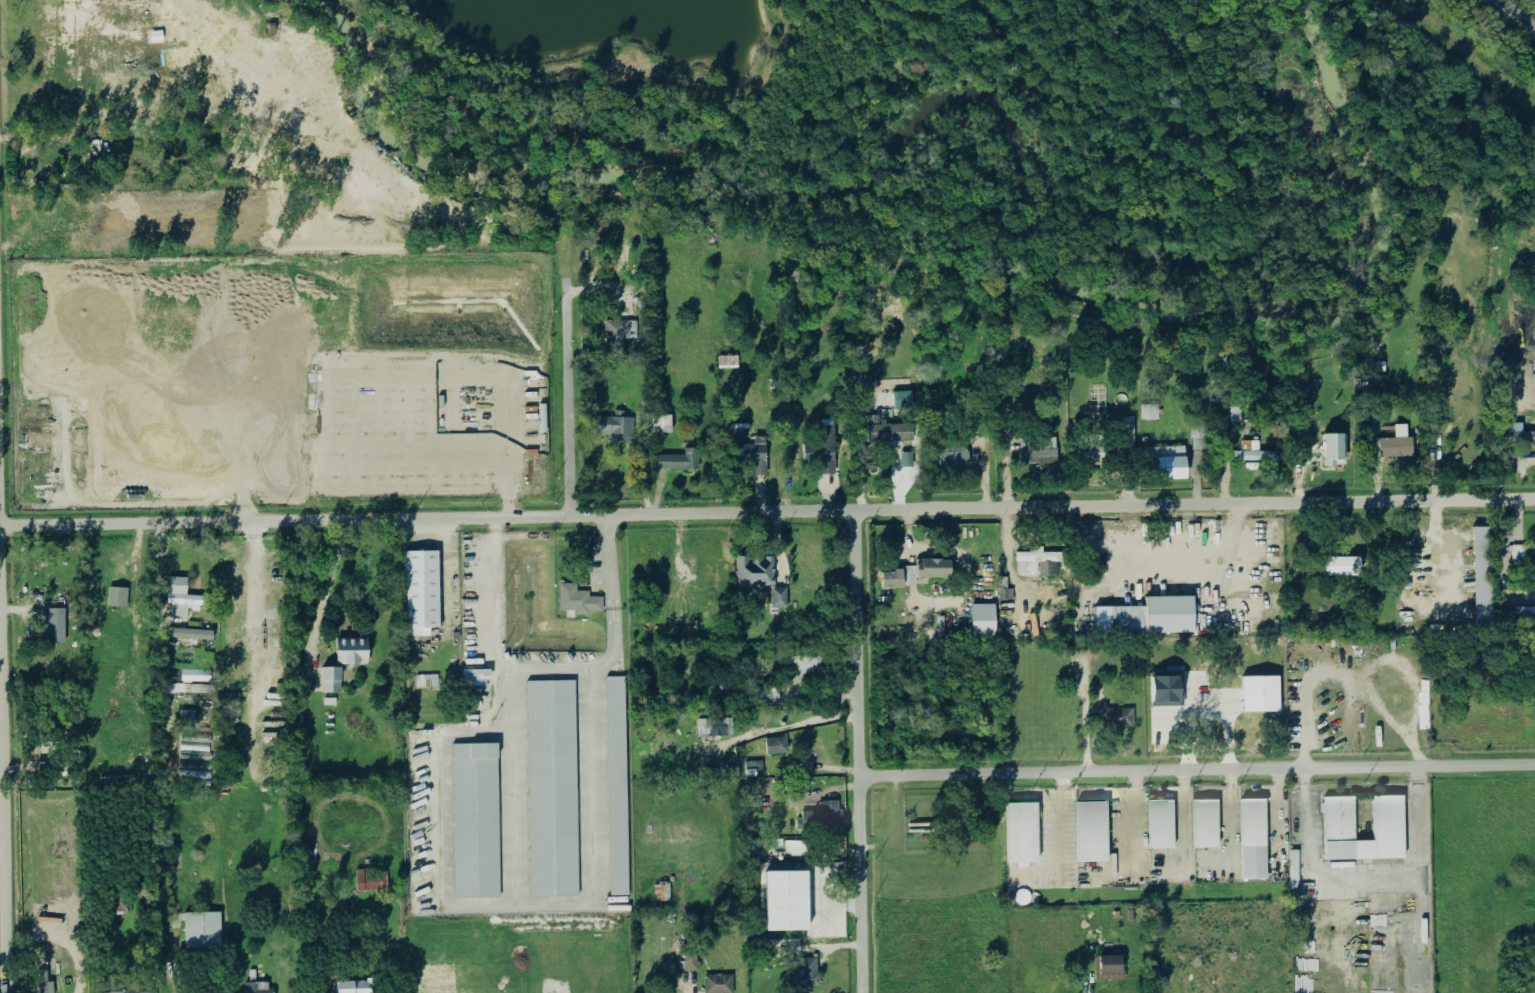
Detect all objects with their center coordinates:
railway: (1513, 16)
railway: (1473, 48)
river: (911, 240)
building: (626, 255)
road: (383, 314)
building: (620, 333)
road: (284, 380)
road: (151, 384)
road: (64, 386)
road: (565, 398)
building: (903, 401)
road: (325, 408)
road: (237, 409)
building: (1150, 413)
building: (663, 425)
building: (618, 429)
building: (890, 433)
building: (1520, 435)
building: (1202, 438)
road: (417, 440)
building: (1399, 445)
building: (1337, 451)
building: (1255, 453)
building: (822, 454)
building: (1040, 454)
building: (758, 455)
building: (907, 460)
building: (955, 460)
building: (681, 461)
building: (1171, 462)
road: (16, 501)
road: (767, 514)
building: (1521, 554)
building: (726, 556)
building: (1039, 564)
building: (1264, 567)
building: (1345, 567)
building: (920, 574)
building: (1486, 576)
road: (445, 577)
building: (761, 580)
building: (176, 586)
building: (422, 590)
building: (713, 595)
road: (323, 596)
building: (117, 597)
building: (579, 601)
road: (155, 608)
road: (251, 611)
building: (1527, 613)
building: (1150, 618)
building: (985, 621)
building: (55, 626)
building: (354, 653)
road: (552, 668)
road: (1372, 670)
building: (197, 676)
building: (477, 677)
building: (332, 681)
building: (427, 682)
building: (1170, 692)
road: (1310, 694)
building: (1263, 695)
building: (1116, 718)
road: (793, 727)
building: (716, 728)
building: (778, 747)
road: (856, 752)
building: (754, 770)
road: (1195, 770)
road: (1230, 783)
building: (617, 787)
building: (553, 788)
building: (822, 817)
building: (1338, 819)
building: (475, 821)
building: (1160, 824)
building: (1204, 824)
road: (1060, 827)
building: (1387, 828)
building: (1090, 831)
building: (1021, 833)
building: (1252, 839)
building: (1348, 850)
road: (2, 857)
road: (1311, 874)
road: (1420, 879)
building: (372, 882)
building: (662, 892)
building: (785, 901)
road: (556, 905)
building: (49, 921)
building: (202, 930)
building: (1109, 968)
road: (1389, 969)
road: (1303, 974)
building: (720, 984)
building: (355, 987)
building: (259, 988)
building: (124, 990)

